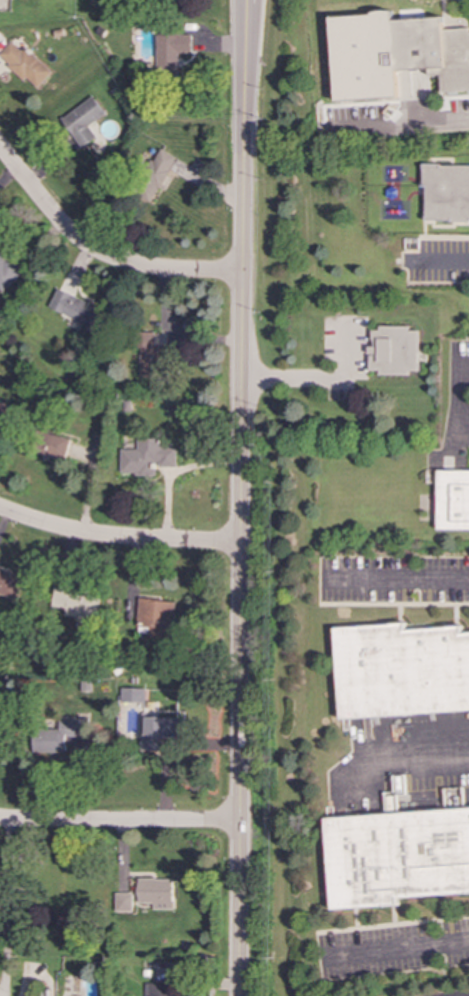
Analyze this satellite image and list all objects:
building: (171, 51)
building: (395, 54)
building: (25, 64)
building: (82, 122)
road: (434, 124)
building: (156, 175)
building: (446, 193)
road: (99, 253)
road: (443, 264)
building: (78, 310)
building: (393, 351)
building: (150, 356)
road: (319, 378)
road: (459, 404)
building: (56, 446)
building: (147, 457)
road: (241, 497)
building: (453, 499)
road: (118, 538)
road: (410, 578)
building: (9, 584)
building: (77, 604)
building: (158, 617)
building: (402, 670)
building: (133, 695)
building: (157, 731)
road: (416, 764)
road: (119, 822)
building: (397, 856)
building: (146, 895)
road: (5, 908)
road: (399, 948)
building: (158, 989)

